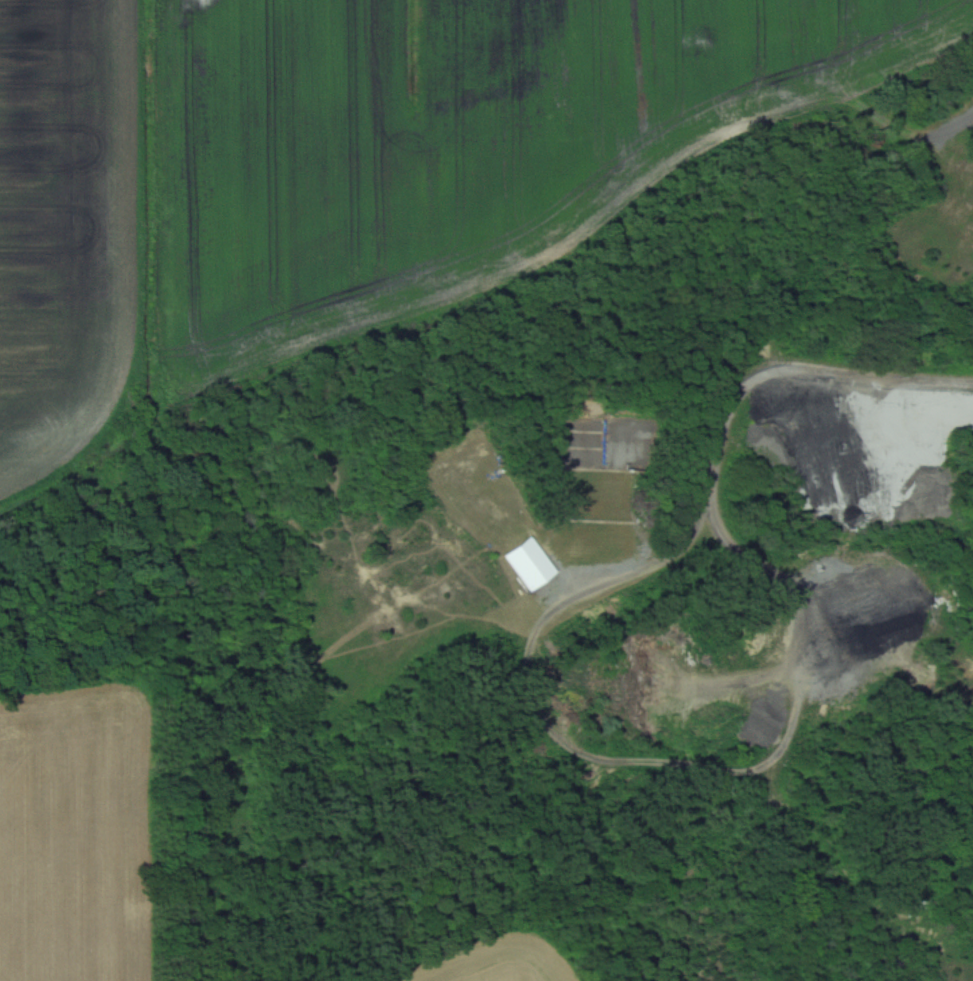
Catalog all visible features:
road: (724, 433)
building: (608, 464)
building: (533, 565)

